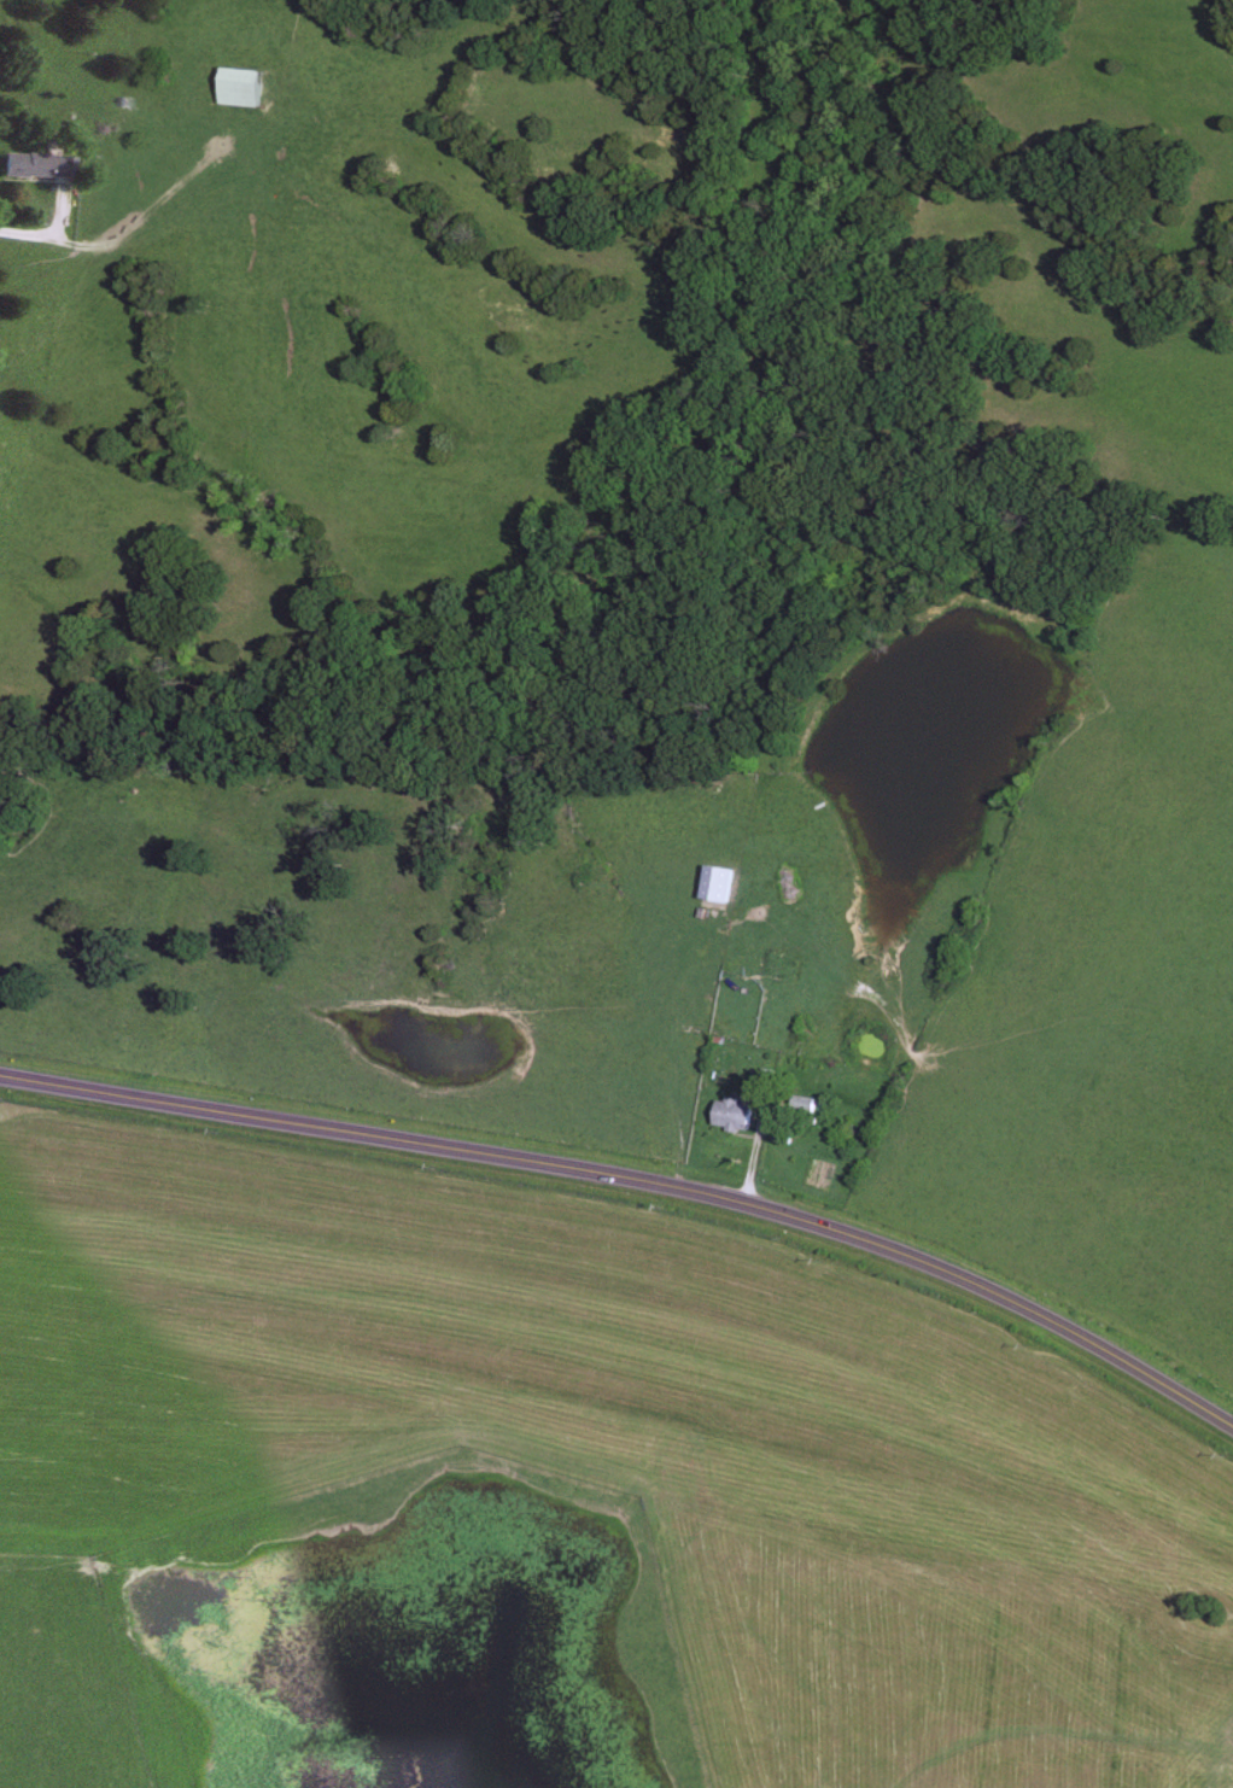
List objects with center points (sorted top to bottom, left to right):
building: (241, 88)
building: (22, 165)
road: (23, 230)
building: (718, 886)
building: (772, 971)
building: (806, 1106)
building: (736, 1116)
road: (639, 1179)

